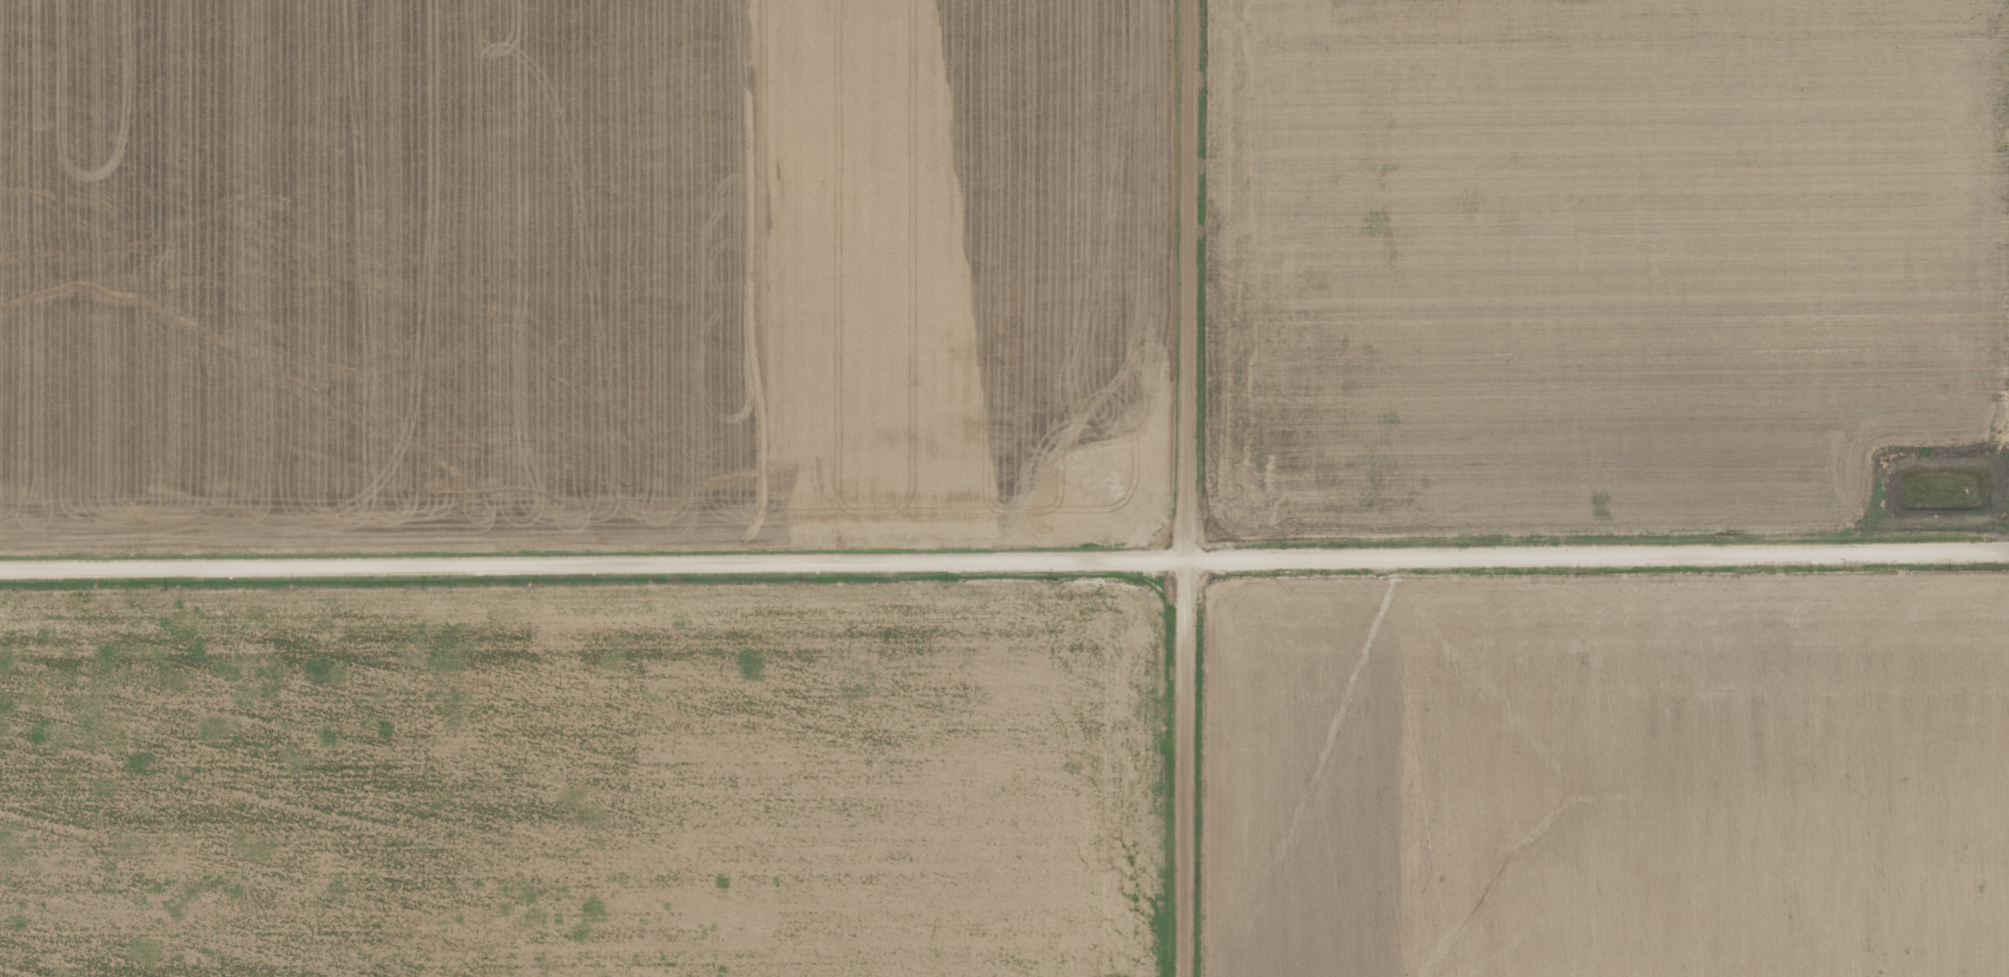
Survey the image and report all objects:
crop: (502, 247)
road: (1185, 488)
road: (1004, 554)

